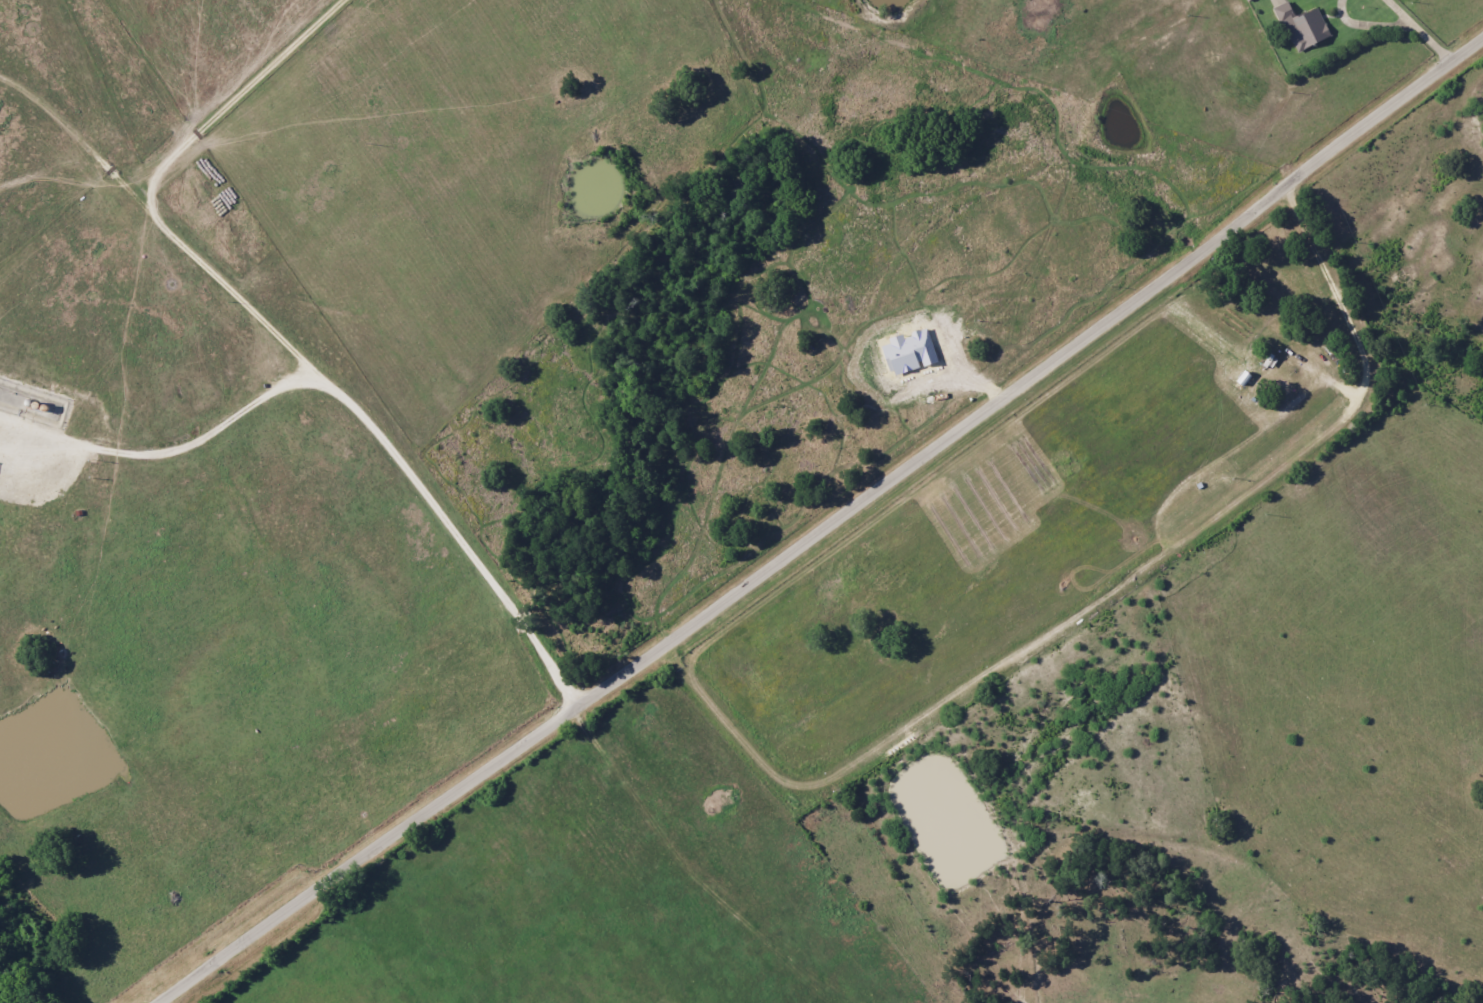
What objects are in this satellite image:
building: (1304, 27)
road: (1424, 32)
road: (829, 532)
road: (1109, 600)

